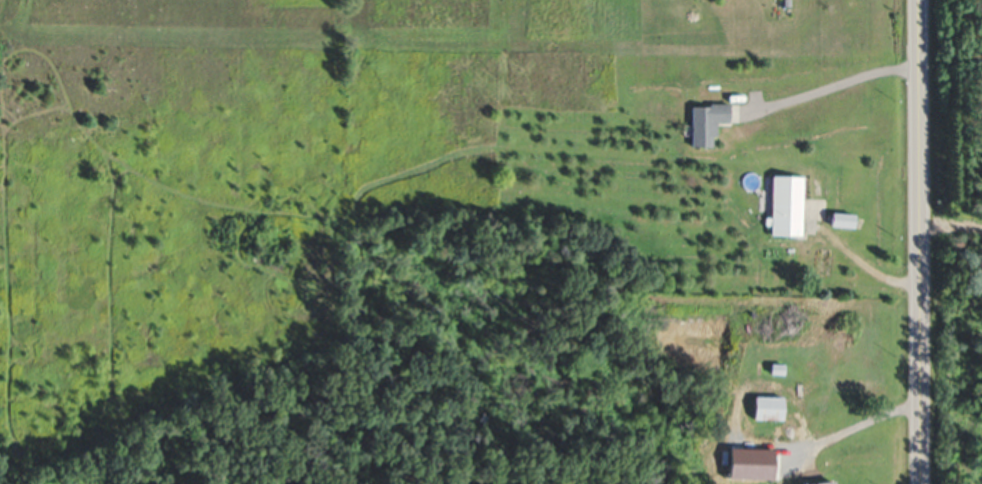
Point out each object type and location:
road: (830, 83)
building: (706, 123)
building: (785, 206)
building: (841, 220)
road: (916, 241)
building: (822, 263)
road: (867, 264)
building: (768, 408)
road: (856, 422)
building: (819, 483)

